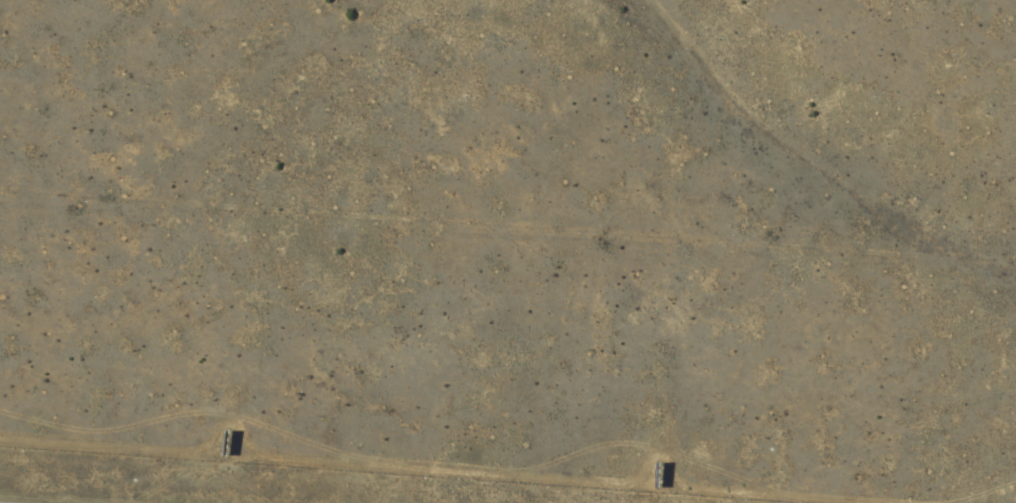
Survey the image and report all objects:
road: (455, 461)
road: (979, 491)

